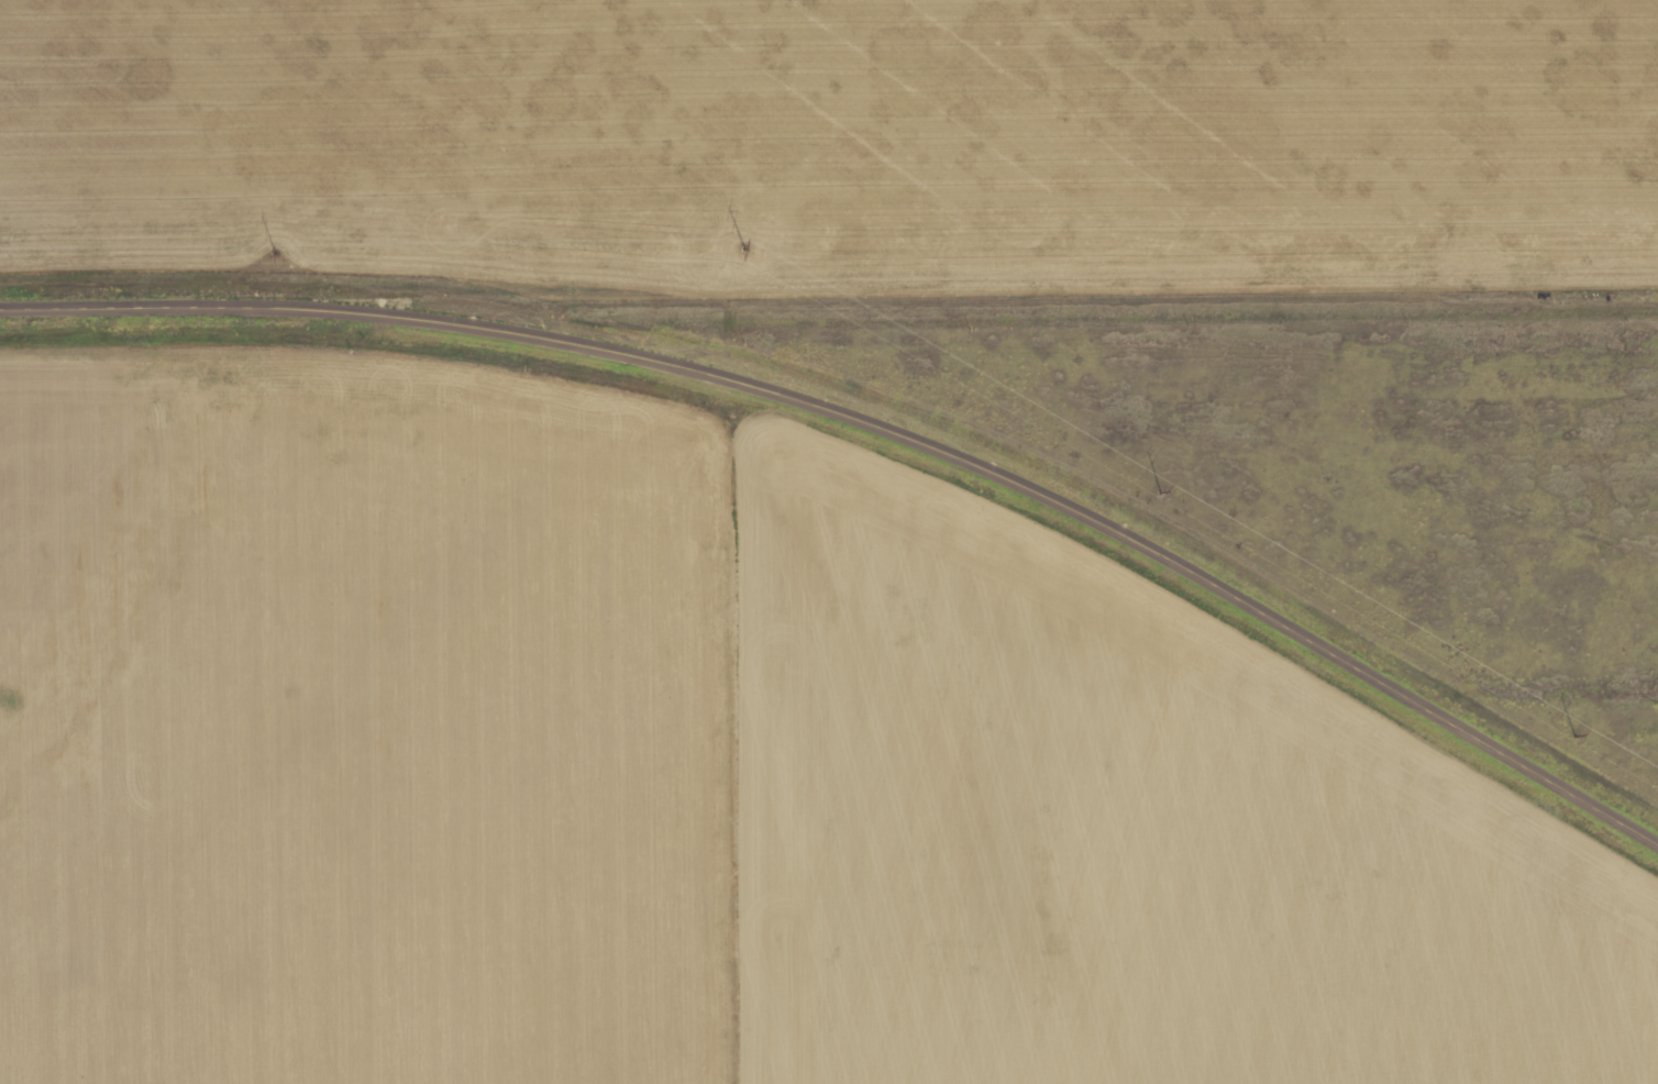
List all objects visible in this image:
power tower: (743, 248)
power tower: (274, 254)
road: (1021, 303)
road: (875, 422)
power tower: (1159, 493)
power tower: (1574, 737)

